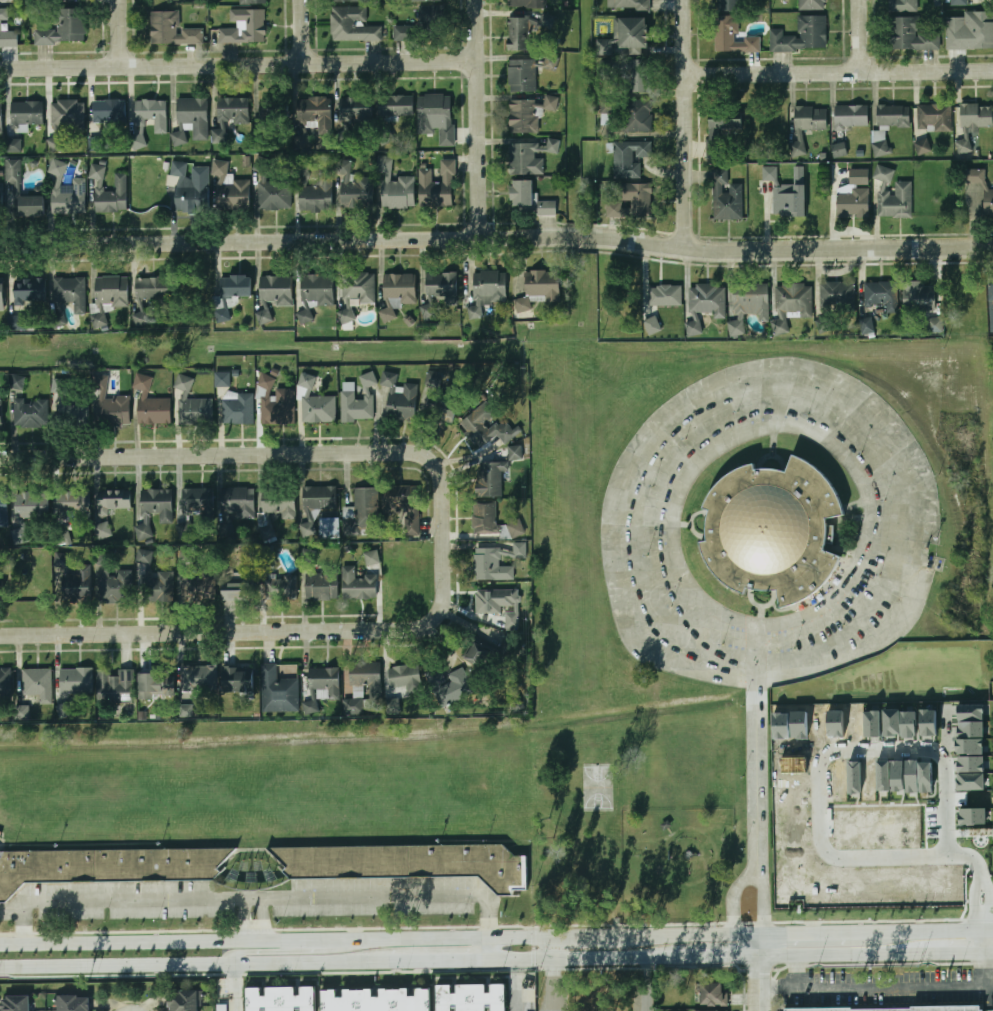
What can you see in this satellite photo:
building: (425, 0)
building: (346, 1)
building: (253, 2)
building: (959, 2)
building: (527, 4)
building: (628, 5)
building: (729, 5)
building: (811, 5)
building: (903, 6)
building: (424, 25)
building: (352, 26)
building: (244, 27)
building: (64, 28)
building: (172, 30)
building: (6, 31)
road: (304, 31)
building: (970, 31)
road: (122, 32)
building: (519, 34)
building: (912, 35)
building: (802, 36)
road: (861, 36)
building: (626, 37)
building: (733, 37)
road: (239, 63)
road: (839, 72)
building: (627, 75)
building: (521, 76)
building: (396, 106)
building: (607, 107)
building: (355, 110)
building: (313, 112)
building: (151, 113)
building: (274, 113)
building: (27, 114)
building: (111, 114)
building: (66, 115)
building: (229, 116)
building: (637, 116)
building: (851, 116)
building: (893, 116)
building: (436, 117)
building: (523, 117)
building: (1, 118)
building: (192, 118)
road: (479, 118)
building: (934, 118)
building: (973, 123)
road: (686, 124)
building: (806, 126)
building: (721, 132)
building: (179, 138)
building: (56, 143)
building: (96, 144)
building: (12, 146)
building: (923, 146)
building: (880, 149)
building: (839, 150)
building: (630, 158)
building: (526, 159)
building: (974, 176)
building: (858, 177)
building: (437, 186)
building: (394, 187)
building: (188, 188)
building: (230, 189)
building: (108, 192)
building: (275, 193)
building: (316, 193)
building: (356, 194)
building: (522, 194)
building: (892, 195)
building: (726, 197)
building: (784, 197)
building: (68, 198)
building: (2, 199)
building: (631, 201)
building: (988, 202)
building: (852, 204)
building: (31, 206)
building: (547, 209)
road: (496, 236)
building: (489, 287)
building: (151, 288)
building: (540, 289)
building: (317, 290)
building: (29, 291)
building: (276, 291)
building: (69, 292)
building: (355, 292)
building: (398, 292)
building: (439, 293)
building: (1, 294)
building: (230, 294)
building: (881, 295)
building: (108, 296)
building: (664, 296)
building: (837, 296)
building: (919, 297)
building: (704, 304)
building: (790, 304)
building: (748, 305)
building: (991, 305)
building: (305, 316)
building: (263, 317)
building: (141, 319)
building: (17, 322)
building: (653, 325)
building: (867, 325)
building: (936, 325)
building: (434, 378)
building: (221, 379)
building: (17, 382)
building: (183, 384)
building: (59, 386)
road: (737, 397)
building: (398, 399)
building: (151, 405)
building: (442, 405)
building: (282, 406)
building: (355, 408)
building: (237, 409)
building: (78, 410)
building: (319, 410)
building: (114, 411)
building: (196, 411)
building: (0, 412)
building: (31, 414)
road: (780, 428)
building: (505, 432)
building: (514, 453)
road: (256, 454)
building: (489, 480)
building: (319, 497)
building: (115, 500)
building: (278, 500)
building: (197, 501)
building: (238, 502)
building: (157, 503)
building: (404, 504)
building: (74, 506)
building: (4, 509)
building: (28, 512)
building: (361, 513)
building: (484, 518)
building: (328, 528)
building: (103, 530)
building: (185, 530)
building: (144, 531)
building: (775, 532)
building: (185, 557)
building: (371, 557)
building: (489, 565)
building: (72, 579)
building: (154, 581)
building: (199, 584)
building: (321, 584)
building: (115, 585)
building: (358, 585)
building: (235, 587)
building: (278, 588)
building: (493, 600)
building: (511, 619)
road: (262, 632)
building: (478, 652)
building: (364, 673)
building: (404, 677)
building: (197, 679)
building: (237, 679)
building: (75, 681)
building: (323, 682)
building: (4, 683)
building: (152, 683)
building: (37, 684)
building: (449, 685)
building: (115, 686)
building: (277, 691)
building: (311, 707)
building: (22, 712)
road: (756, 745)
road: (819, 803)
building: (406, 862)
building: (107, 865)
road: (753, 869)
road: (258, 898)
road: (263, 919)
road: (241, 920)
road: (938, 932)
road: (822, 934)
road: (700, 936)
road: (597, 937)
road: (446, 938)
road: (294, 940)
road: (124, 943)
road: (992, 943)
road: (487, 950)
road: (554, 950)
road: (237, 951)
road: (875, 957)
road: (706, 960)
road: (571, 961)
road: (421, 963)
road: (177, 965)
road: (758, 973)
road: (795, 974)
road: (992, 982)
road: (515, 986)
road: (554, 986)
road: (646, 986)
road: (234, 988)
road: (874, 988)
building: (713, 994)
building: (281, 998)
building: (472, 998)
building: (376, 999)
building: (529, 999)
building: (185, 1001)
building: (15, 1003)
building: (75, 1003)
building: (222, 1007)
building: (904, 1009)

